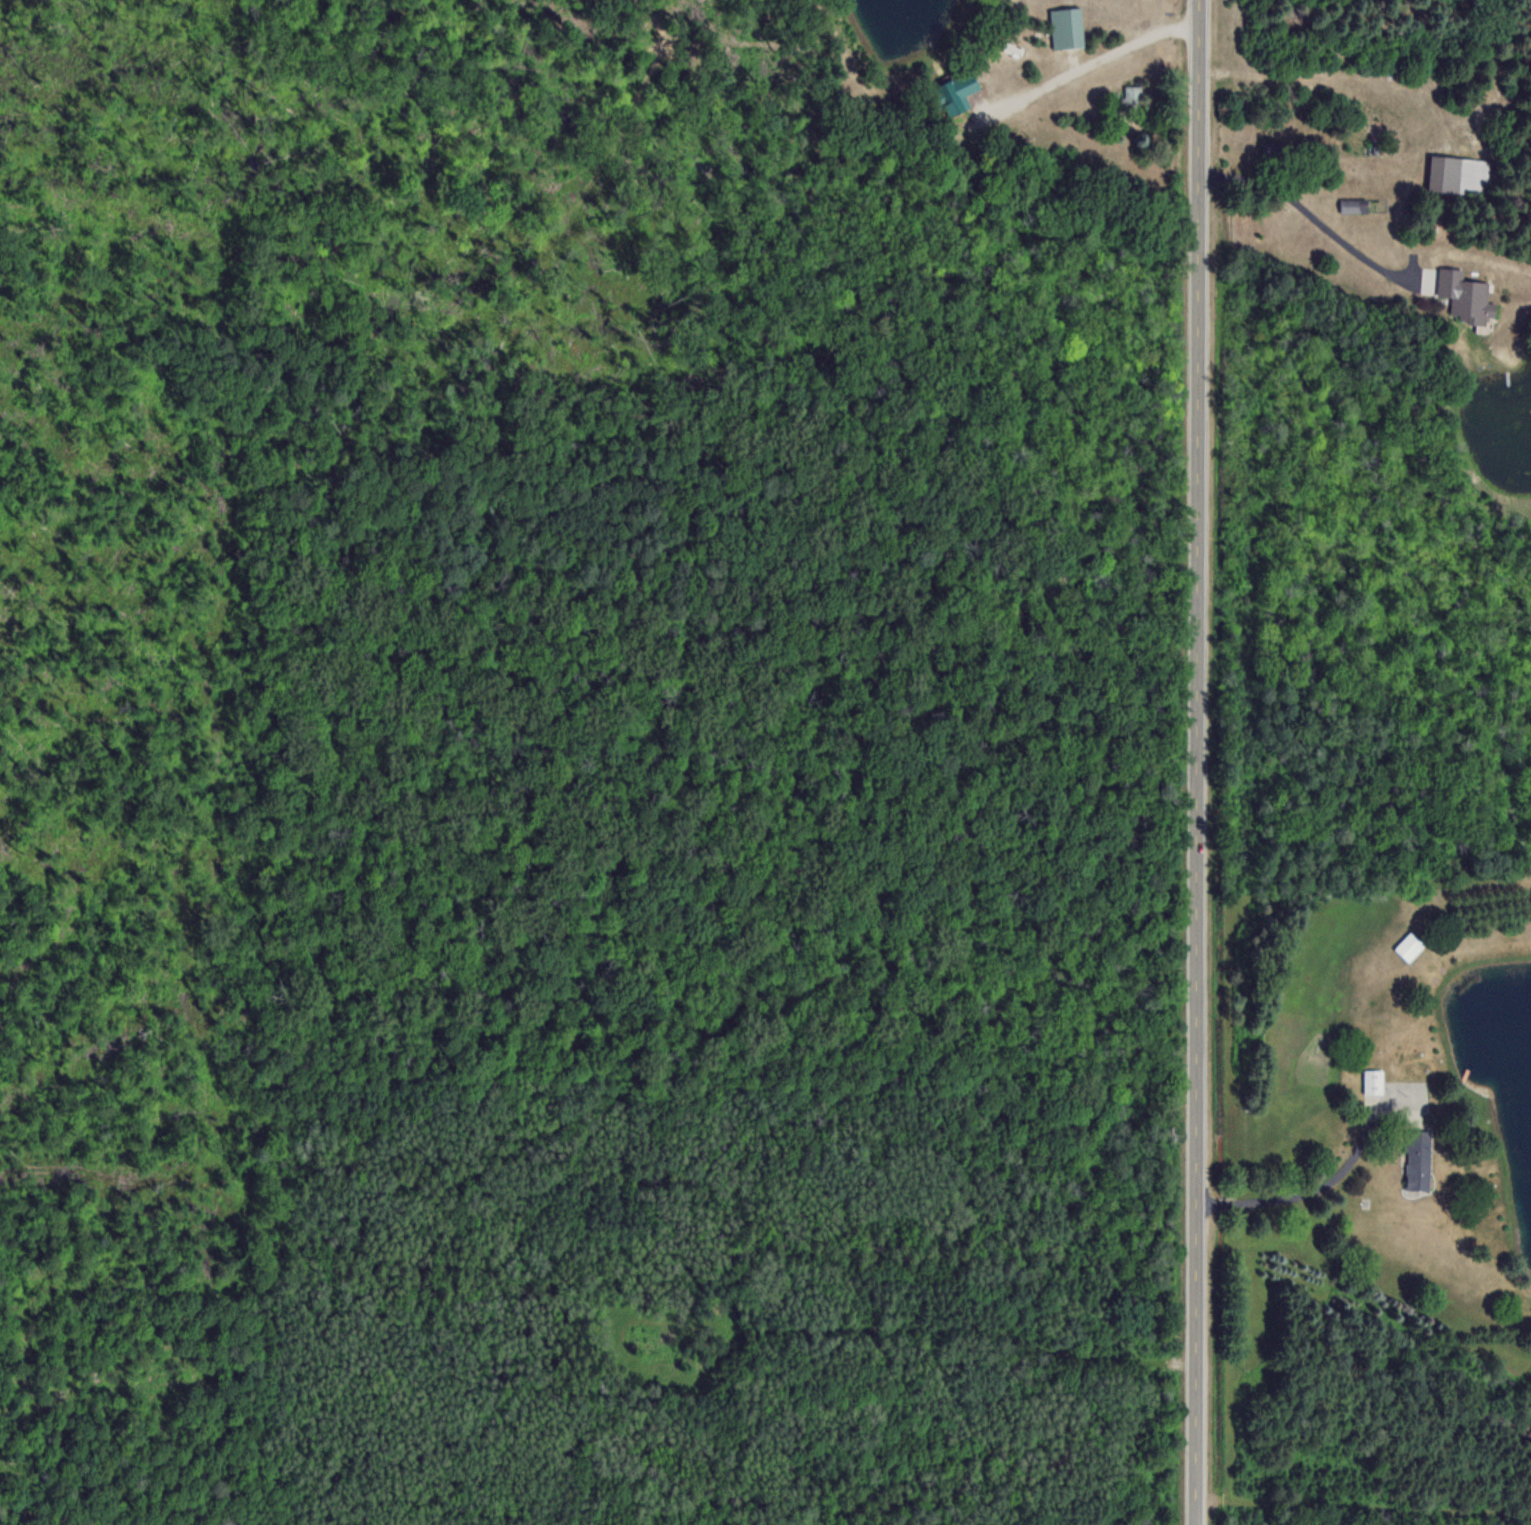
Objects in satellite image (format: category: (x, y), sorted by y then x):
building: (1066, 27)
road: (1097, 59)
building: (951, 94)
building: (1133, 94)
building: (1455, 175)
building: (1353, 206)
road: (1316, 218)
building: (1464, 296)
road: (1197, 762)
building: (1409, 946)
building: (1373, 1081)
building: (1417, 1159)
road: (1301, 1195)

